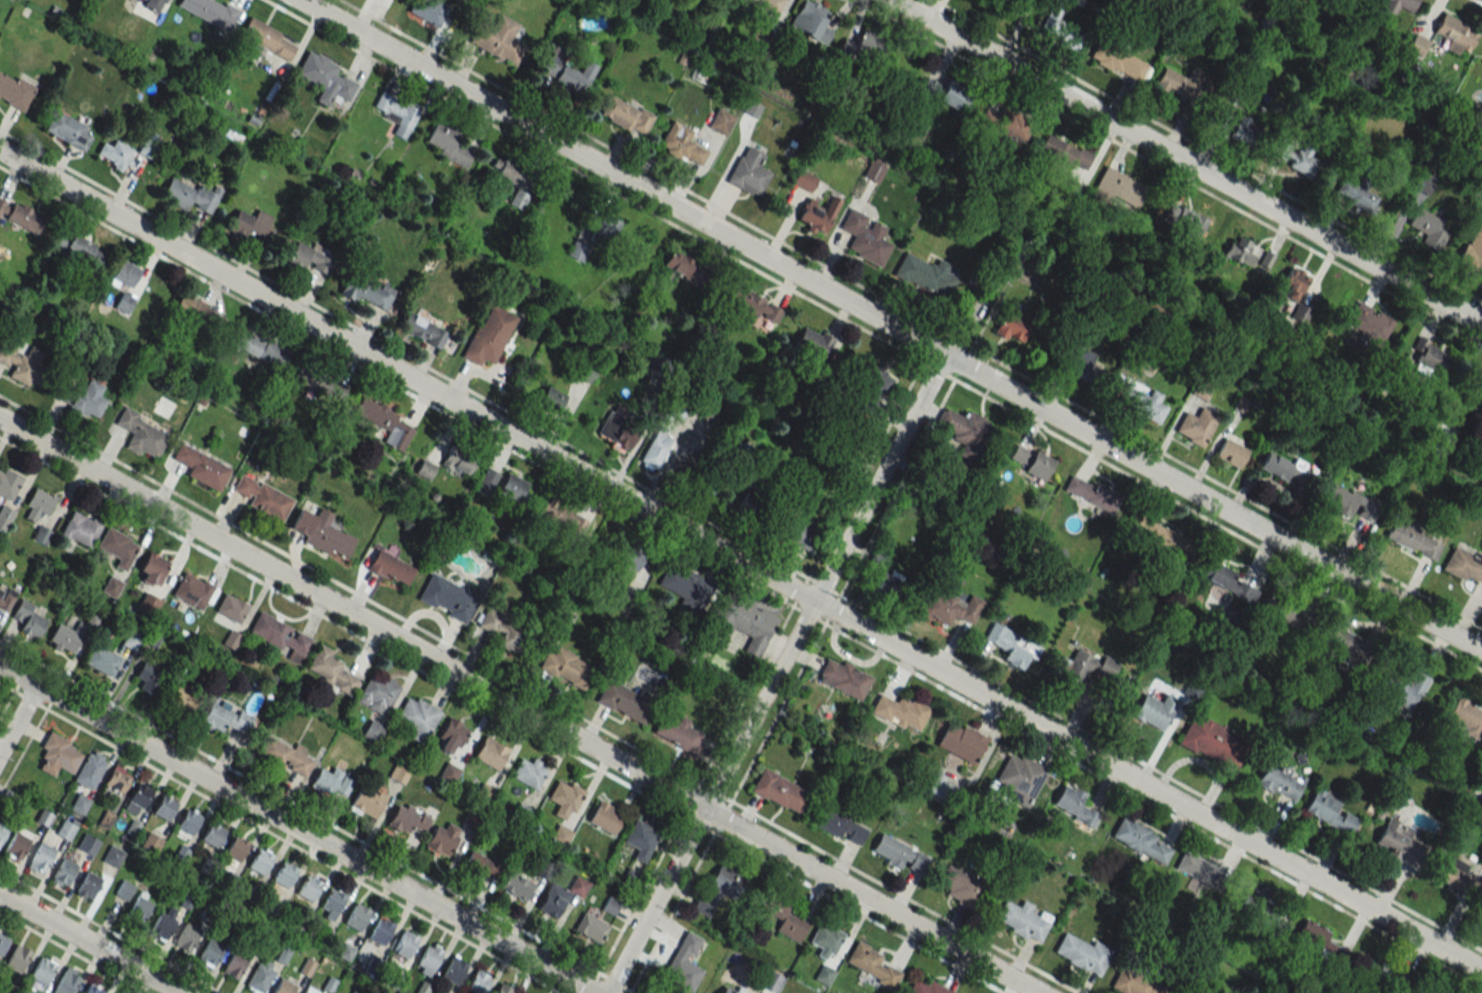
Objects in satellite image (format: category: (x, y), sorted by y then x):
building: (1373, 0)
road: (1479, 1)
building: (153, 4)
building: (769, 5)
building: (1397, 7)
building: (428, 11)
building: (210, 12)
building: (811, 21)
building: (1060, 26)
building: (1456, 35)
building: (496, 37)
building: (267, 38)
building: (1417, 45)
building: (860, 50)
building: (1116, 59)
building: (566, 71)
building: (324, 77)
building: (1180, 86)
building: (14, 91)
building: (950, 92)
building: (395, 113)
building: (626, 115)
building: (1220, 115)
building: (720, 121)
building: (1005, 124)
building: (65, 128)
building: (1242, 129)
building: (682, 143)
building: (449, 144)
building: (147, 148)
road: (1208, 150)
building: (1060, 151)
building: (115, 154)
road: (1189, 161)
road: (1170, 171)
building: (747, 172)
building: (512, 179)
road: (593, 180)
building: (803, 181)
building: (1422, 183)
building: (1119, 187)
building: (189, 194)
building: (1356, 195)
building: (817, 214)
building: (21, 216)
building: (1183, 219)
building: (250, 223)
building: (606, 228)
building: (1427, 228)
building: (865, 238)
building: (578, 250)
building: (83, 251)
building: (1239, 251)
building: (1472, 251)
building: (310, 257)
building: (680, 264)
building: (126, 273)
building: (925, 275)
building: (1292, 283)
building: (368, 291)
building: (124, 302)
building: (755, 306)
building: (195, 311)
road: (911, 314)
building: (1368, 323)
road: (891, 324)
building: (1013, 326)
building: (424, 329)
building: (489, 336)
building: (814, 342)
building: (261, 349)
building: (1429, 354)
building: (22, 363)
road: (419, 363)
building: (1079, 364)
building: (586, 372)
building: (320, 381)
road: (395, 386)
building: (1480, 388)
building: (871, 389)
building: (1201, 389)
building: (79, 396)
building: (551, 397)
building: (1144, 403)
building: (386, 423)
building: (1196, 426)
building: (618, 430)
building: (963, 431)
building: (142, 434)
building: (655, 449)
building: (1231, 453)
building: (457, 462)
building: (1033, 462)
building: (200, 466)
building: (1289, 468)
building: (728, 478)
building: (486, 481)
building: (7, 483)
road: (857, 483)
building: (513, 488)
building: (1091, 495)
building: (261, 497)
building: (1340, 500)
building: (37, 505)
building: (5, 514)
building: (563, 516)
road: (1201, 516)
building: (80, 530)
building: (320, 531)
building: (40, 533)
building: (801, 534)
building: (1413, 538)
building: (1166, 539)
building: (118, 547)
building: (877, 557)
road: (741, 559)
building: (626, 561)
building: (1463, 565)
building: (390, 568)
building: (152, 569)
building: (1226, 580)
building: (111, 585)
building: (887, 585)
building: (686, 587)
road: (348, 589)
building: (191, 591)
building: (446, 596)
building: (6, 597)
building: (147, 602)
building: (949, 608)
building: (230, 616)
building: (30, 619)
building: (741, 622)
building: (503, 630)
building: (279, 636)
building: (151, 637)
building: (130, 638)
building: (64, 640)
building: (1012, 645)
building: (1343, 646)
building: (102, 660)
building: (565, 666)
building: (1106, 668)
building: (1075, 670)
building: (331, 671)
road: (776, 673)
building: (843, 677)
building: (148, 678)
road: (7, 687)
building: (1405, 690)
road: (17, 692)
building: (378, 694)
building: (182, 699)
building: (624, 700)
road: (519, 705)
building: (898, 710)
building: (1155, 710)
road: (776, 711)
road: (1053, 714)
building: (418, 715)
road: (501, 715)
building: (1465, 717)
road: (19, 718)
building: (226, 718)
building: (373, 731)
building: (676, 732)
building: (450, 734)
building: (958, 741)
building: (1213, 742)
road: (23, 749)
building: (490, 753)
building: (59, 756)
building: (287, 756)
road: (709, 758)
building: (90, 769)
building: (527, 772)
building: (448, 773)
building: (1019, 774)
building: (117, 779)
building: (1279, 782)
building: (941, 787)
building: (777, 789)
building: (565, 794)
building: (138, 798)
building: (367, 802)
building: (79, 804)
road: (1152, 805)
building: (1074, 806)
building: (164, 807)
road: (308, 812)
building: (1329, 812)
building: (605, 817)
building: (407, 819)
building: (188, 822)
road: (298, 827)
building: (841, 827)
building: (2, 829)
building: (66, 829)
building: (212, 835)
building: (561, 835)
building: (640, 836)
building: (1138, 839)
building: (1395, 840)
building: (442, 842)
building: (151, 843)
road: (807, 843)
building: (87, 844)
building: (16, 845)
building: (236, 848)
road: (303, 850)
building: (899, 853)
building: (112, 856)
building: (40, 858)
building: (259, 862)
building: (480, 865)
building: (1198, 869)
building: (64, 872)
building: (1450, 874)
building: (284, 875)
building: (88, 885)
building: (517, 885)
building: (959, 885)
building: (308, 888)
building: (717, 889)
building: (123, 890)
building: (560, 896)
building: (1256, 897)
building: (333, 902)
building: (139, 909)
building: (1259, 915)
building: (356, 917)
building: (780, 917)
building: (1020, 919)
building: (161, 926)
building: (591, 926)
road: (109, 931)
building: (381, 931)
building: (186, 937)
building: (1320, 938)
building: (825, 940)
building: (2, 942)
road: (89, 943)
building: (405, 944)
building: (210, 951)
building: (346, 951)
road: (72, 952)
building: (1081, 952)
building: (282, 955)
building: (17, 958)
building: (428, 958)
building: (683, 962)
building: (235, 963)
building: (870, 964)
building: (307, 967)
building: (42, 970)
building: (453, 970)
building: (1375, 970)
building: (824, 974)
building: (260, 978)
building: (392, 979)
building: (67, 981)
building: (771, 981)
building: (477, 982)
building: (1133, 982)
building: (329, 984)
building: (283, 987)
building: (423, 987)
building: (924, 987)
building: (92, 989)
building: (503, 989)
building: (354, 991)
road: (631, 991)
building: (304, 992)
building: (437, 992)

